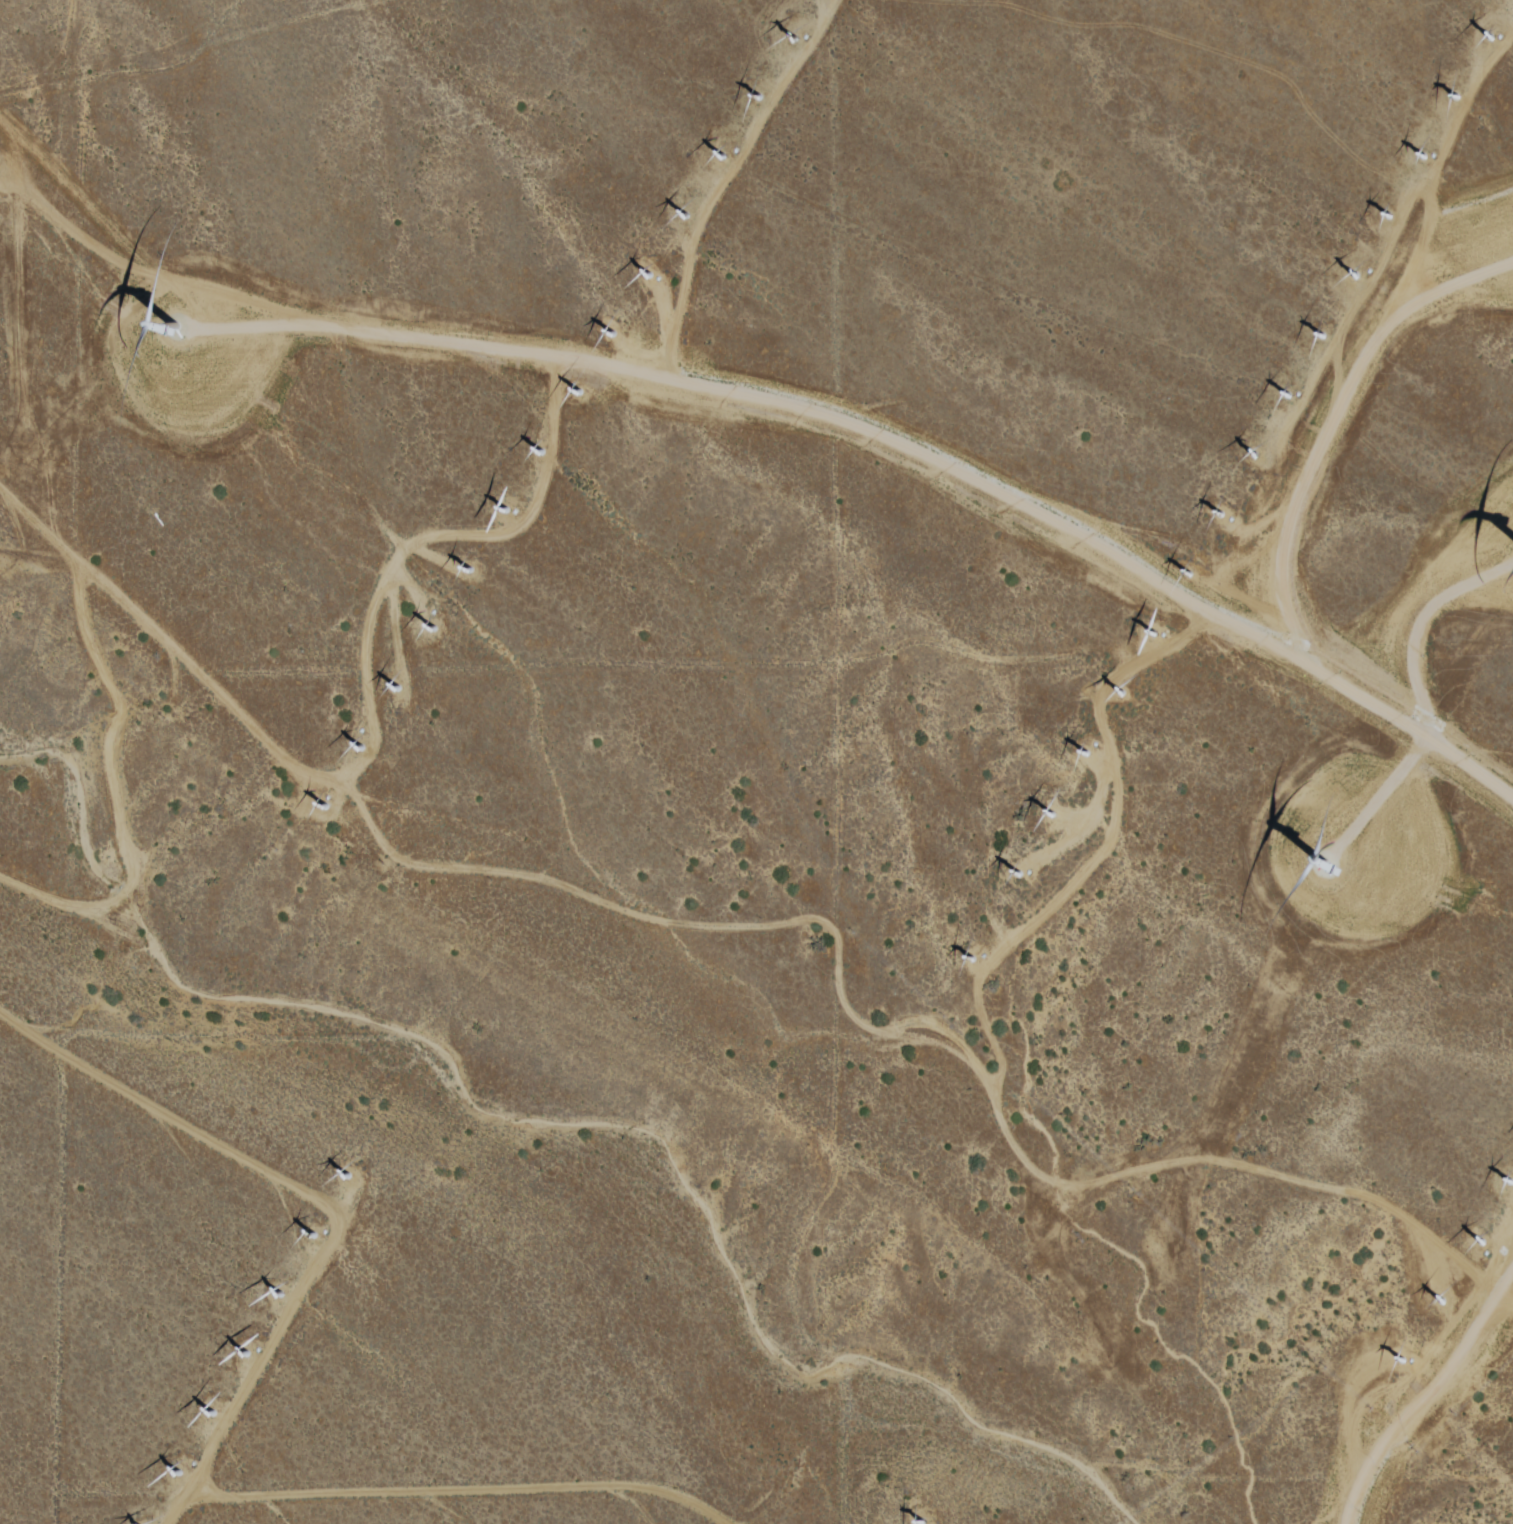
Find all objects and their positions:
wind turbine: (1488, 37)
wind turbine: (797, 39)
wind turbine: (1456, 95)
wind turbine: (758, 98)
wind turbine: (719, 156)
wind turbine: (1426, 158)
wind turbine: (1388, 216)
wind turbine: (683, 218)
wind turbine: (1356, 273)
wind turbine: (641, 276)
wind turbine: (612, 333)
wind turbine: (184, 335)
wind turbine: (1323, 335)
wind turbine: (577, 394)
wind turbine: (1288, 395)
road: (770, 423)
wind turbine: (1255, 451)
wind turbine: (536, 453)
wind turbine: (501, 514)
wind turbine: (1220, 515)
wind turbine: (471, 572)
wind turbine: (1185, 572)
wind turbine: (432, 631)
wind turbine: (1151, 633)
wind turbine: (397, 686)
wind turbine: (1122, 690)
wind turbine: (357, 749)
wind turbine: (1082, 752)
wind turbine: (321, 807)
wind turbine: (1050, 815)
wind turbine: (1021, 875)
wind turbine: (1320, 877)
wind turbine: (970, 957)
wind turbine: (347, 1176)
wind turbine: (1507, 1185)
wind turbine: (312, 1237)
wind turbine: (1481, 1242)
wind turbine: (280, 1295)
wind turbine: (1443, 1301)
wind turbine: (246, 1353)
wind turbine: (1402, 1361)
wind turbine: (213, 1416)
road: (1306, 1469)
wind turbine: (181, 1474)
wind turbine: (920, 1520)

